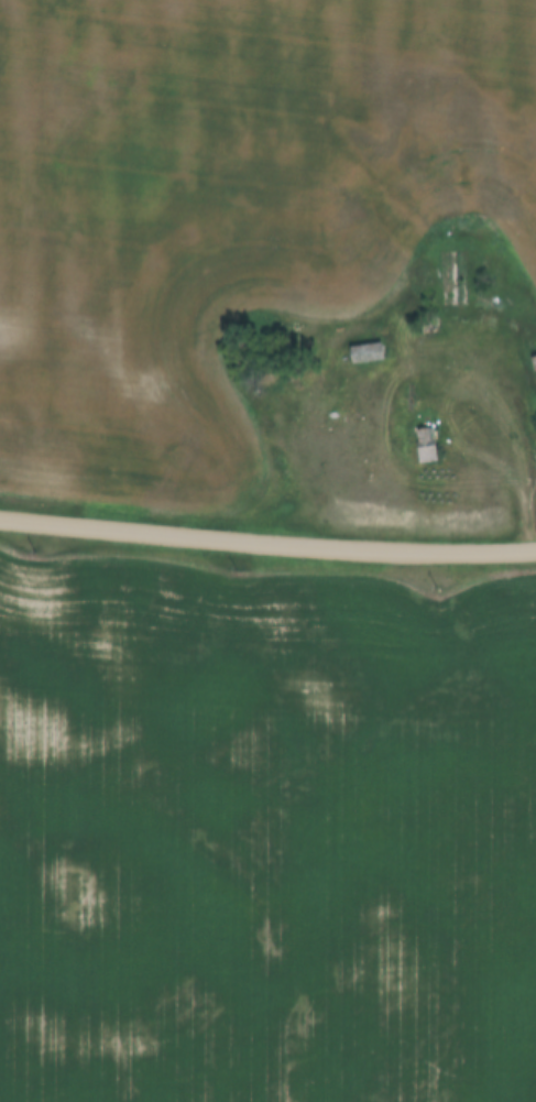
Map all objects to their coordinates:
building: (367, 354)
road: (511, 394)
building: (427, 446)
road: (267, 541)

